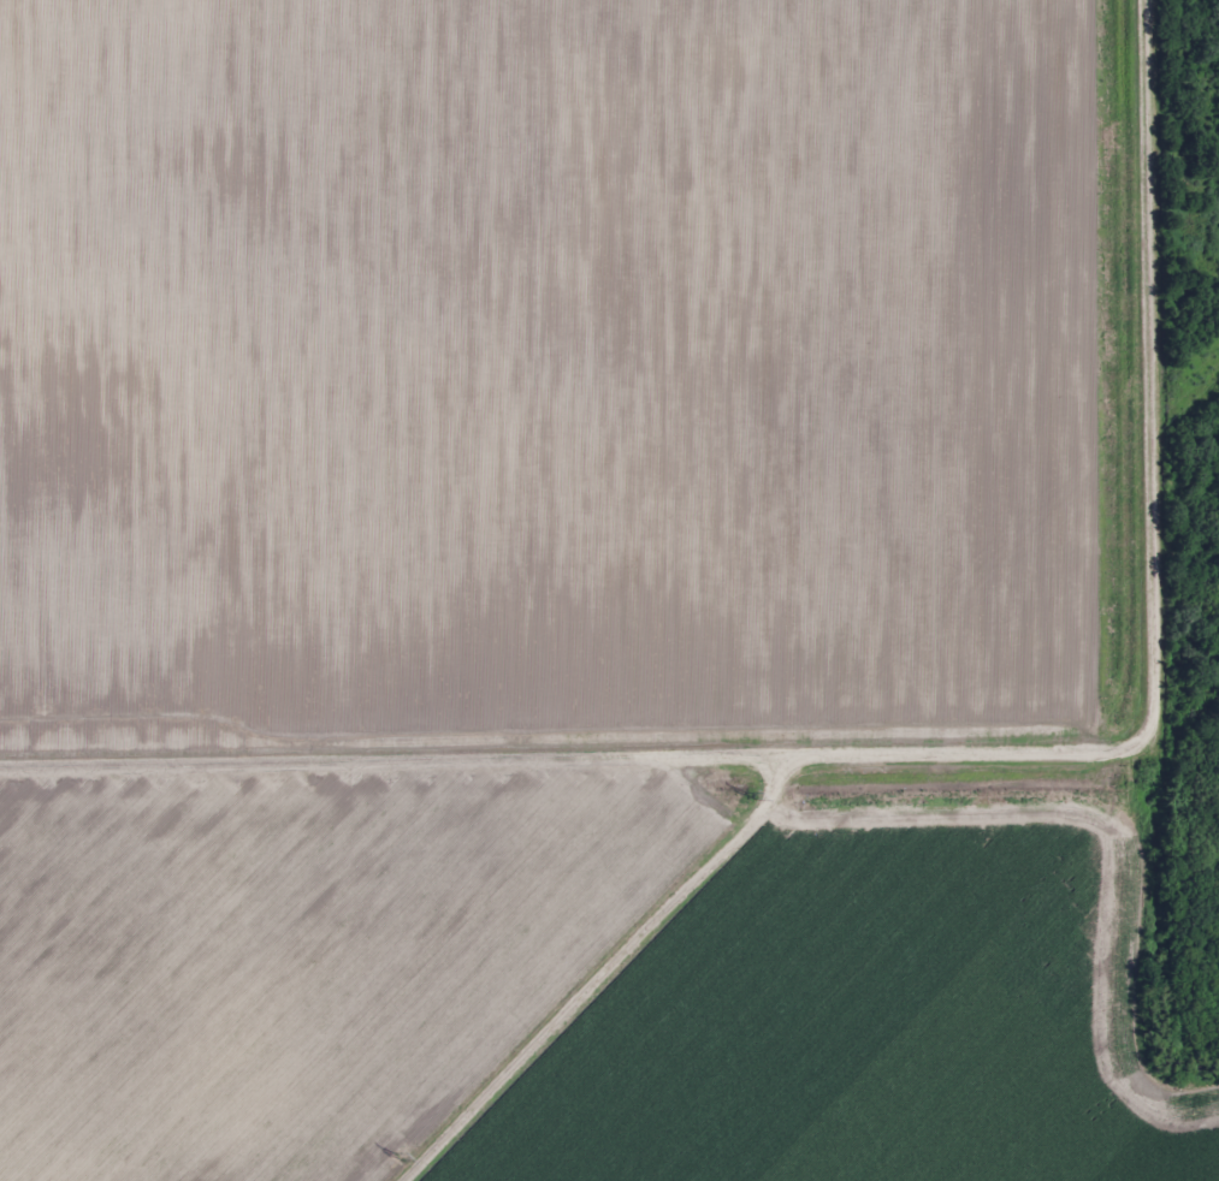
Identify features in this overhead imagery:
power tower: (787, 833)

